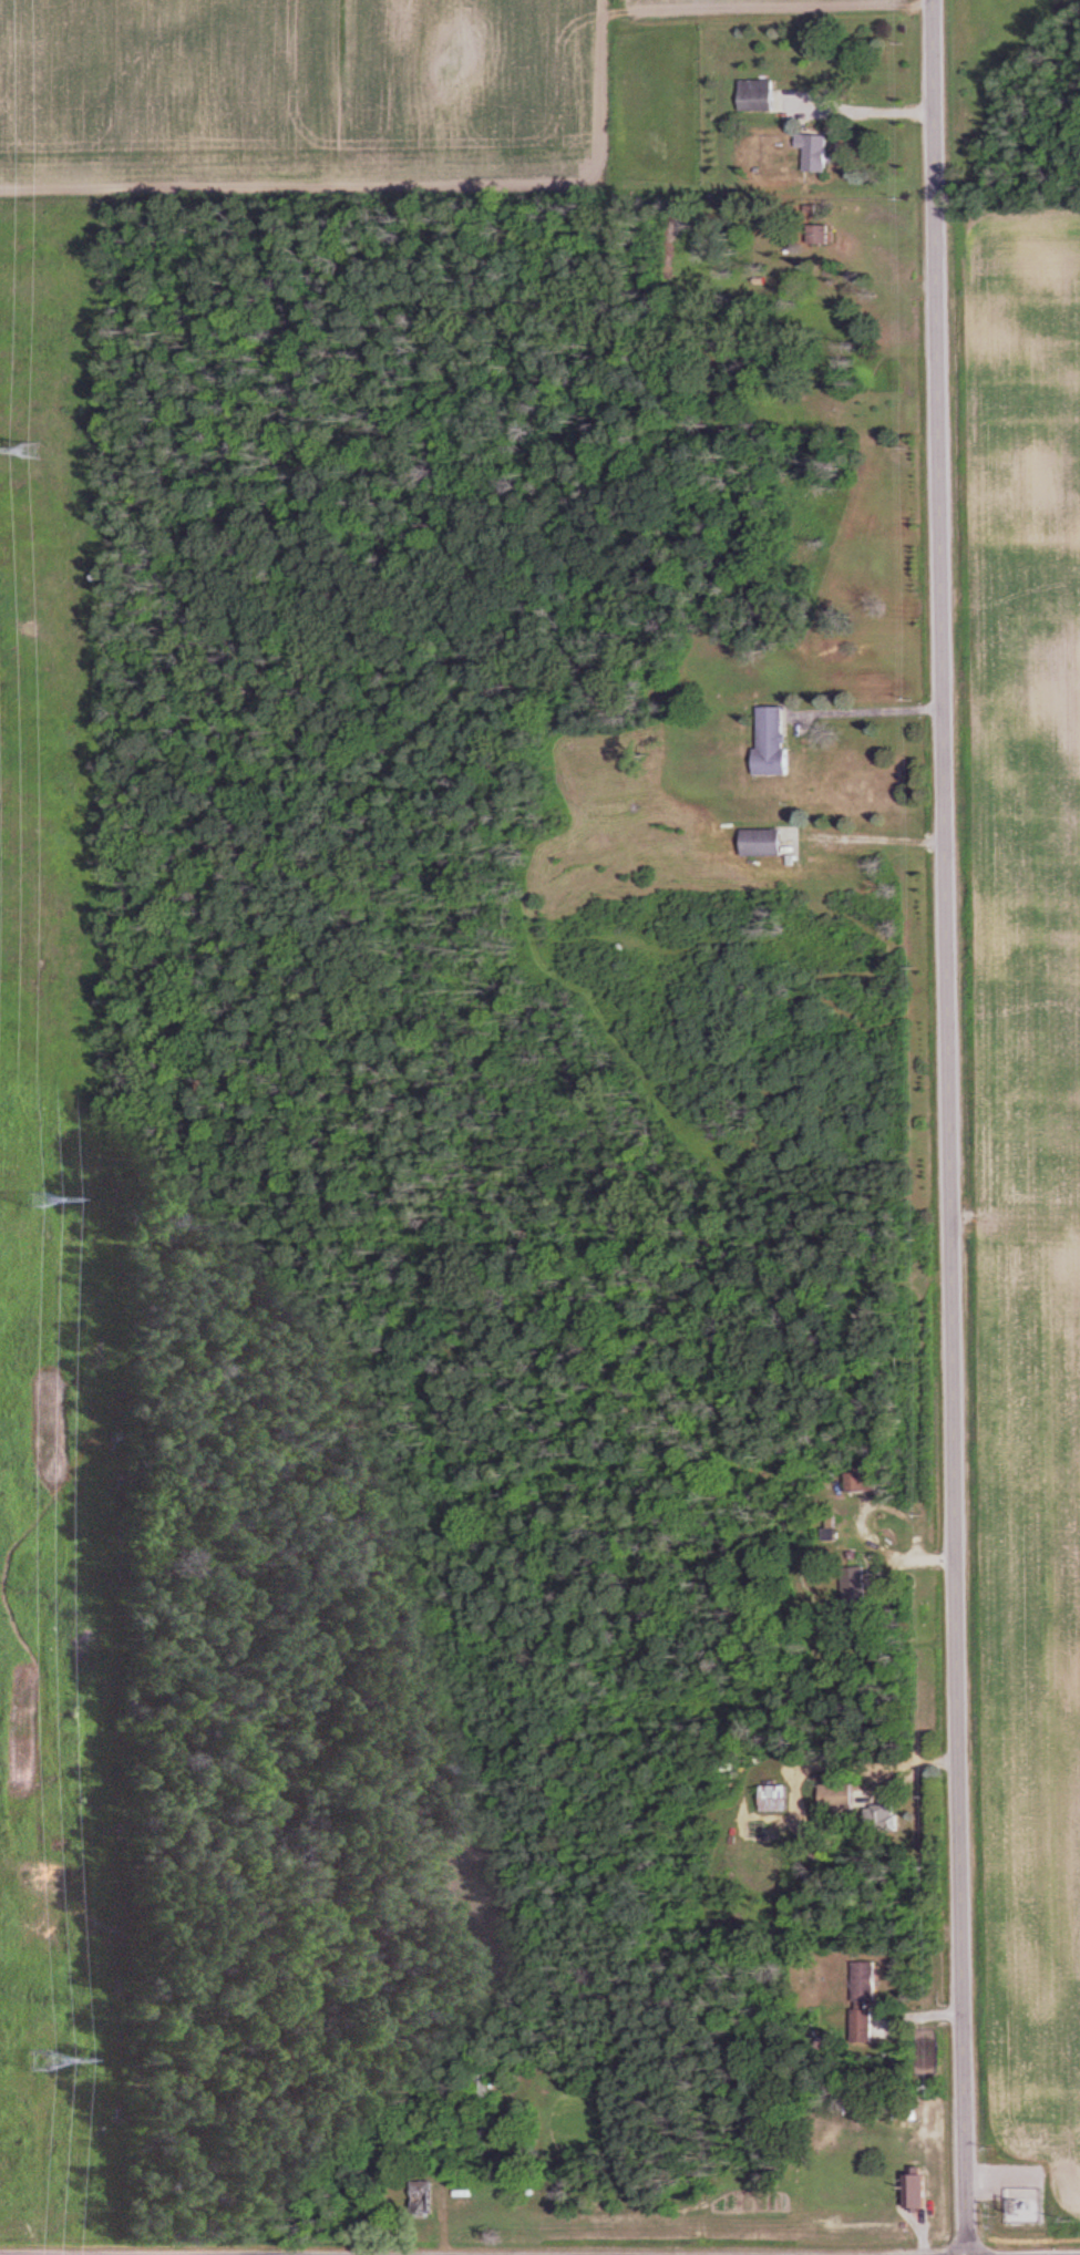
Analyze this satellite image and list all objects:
building: (760, 95)
road: (865, 111)
building: (819, 153)
power tower: (32, 450)
road: (866, 708)
building: (776, 741)
building: (764, 842)
road: (945, 1127)
power tower: (35, 1199)
building: (865, 1482)
building: (858, 1590)
building: (842, 1796)
building: (775, 1799)
building: (868, 1983)
building: (867, 2020)
power tower: (43, 2062)
building: (916, 2187)
power substation: (1024, 2208)

